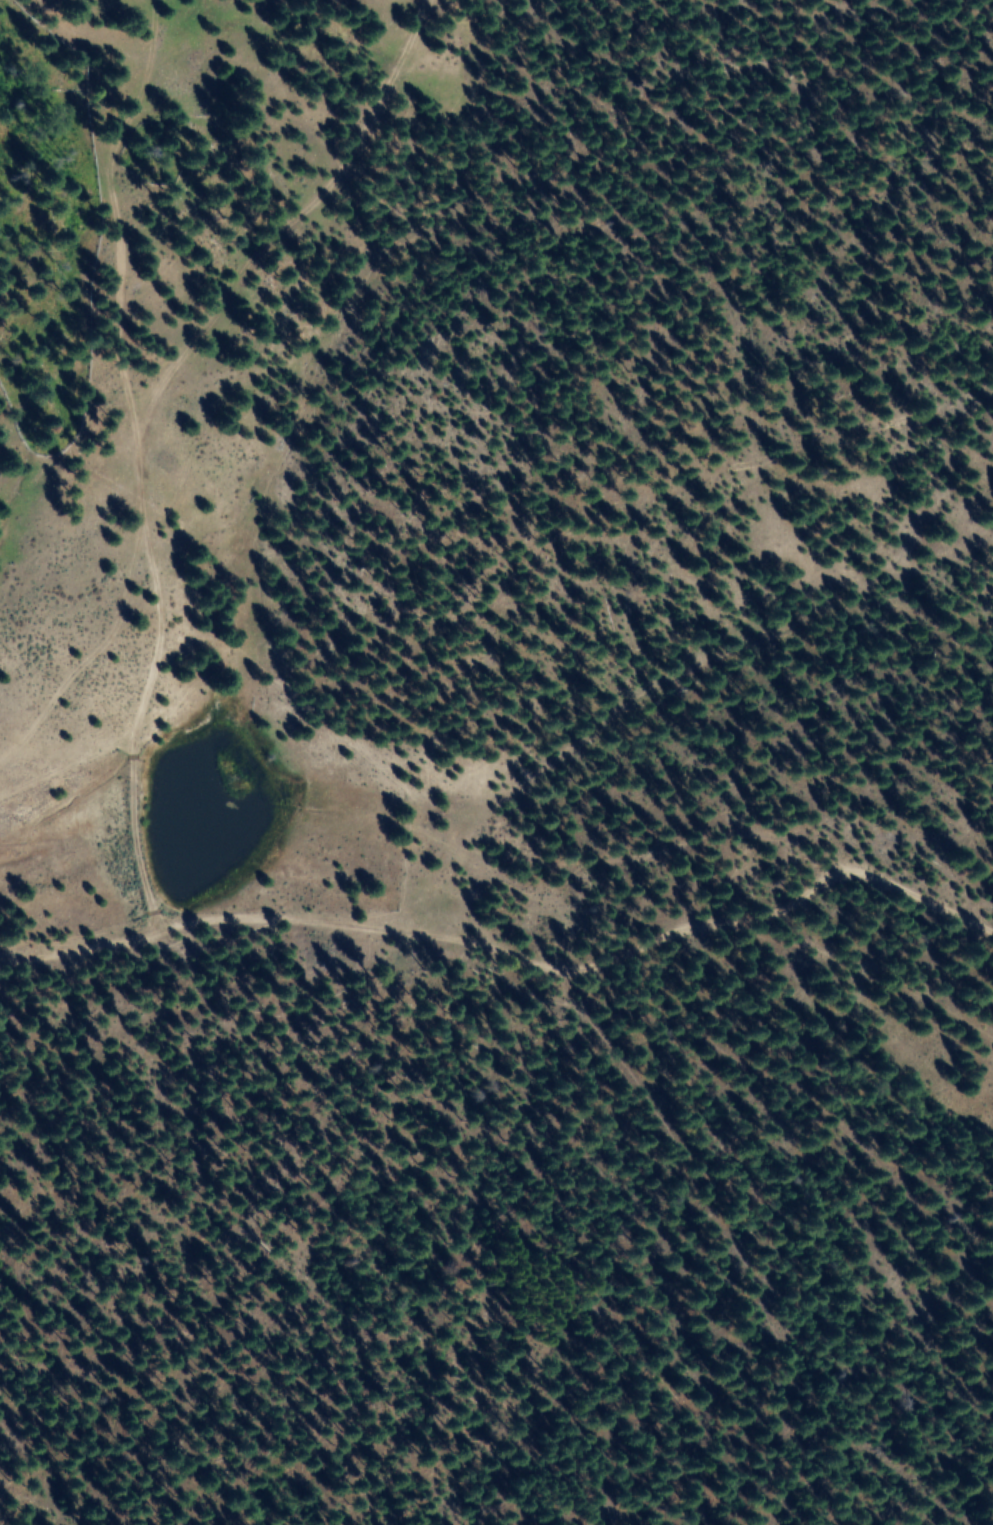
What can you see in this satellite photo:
road: (502, 947)

